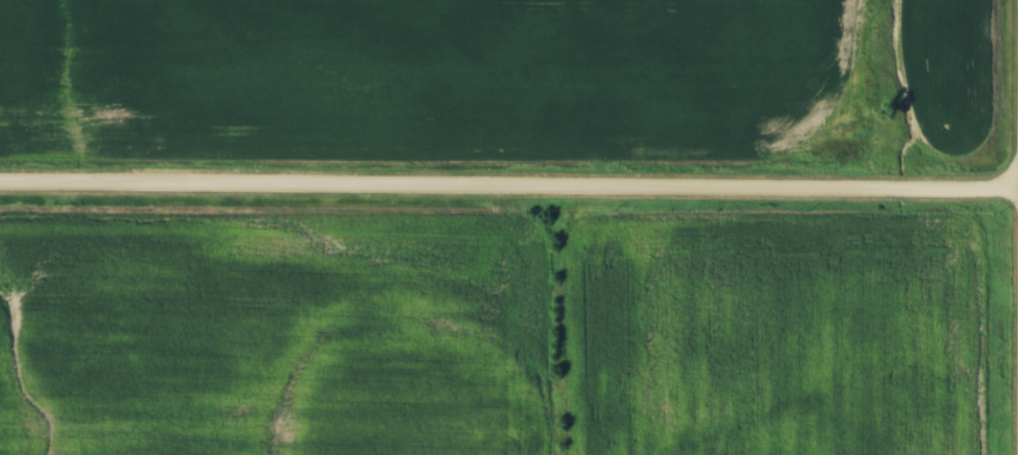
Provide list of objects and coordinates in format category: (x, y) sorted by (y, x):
road: (509, 189)

